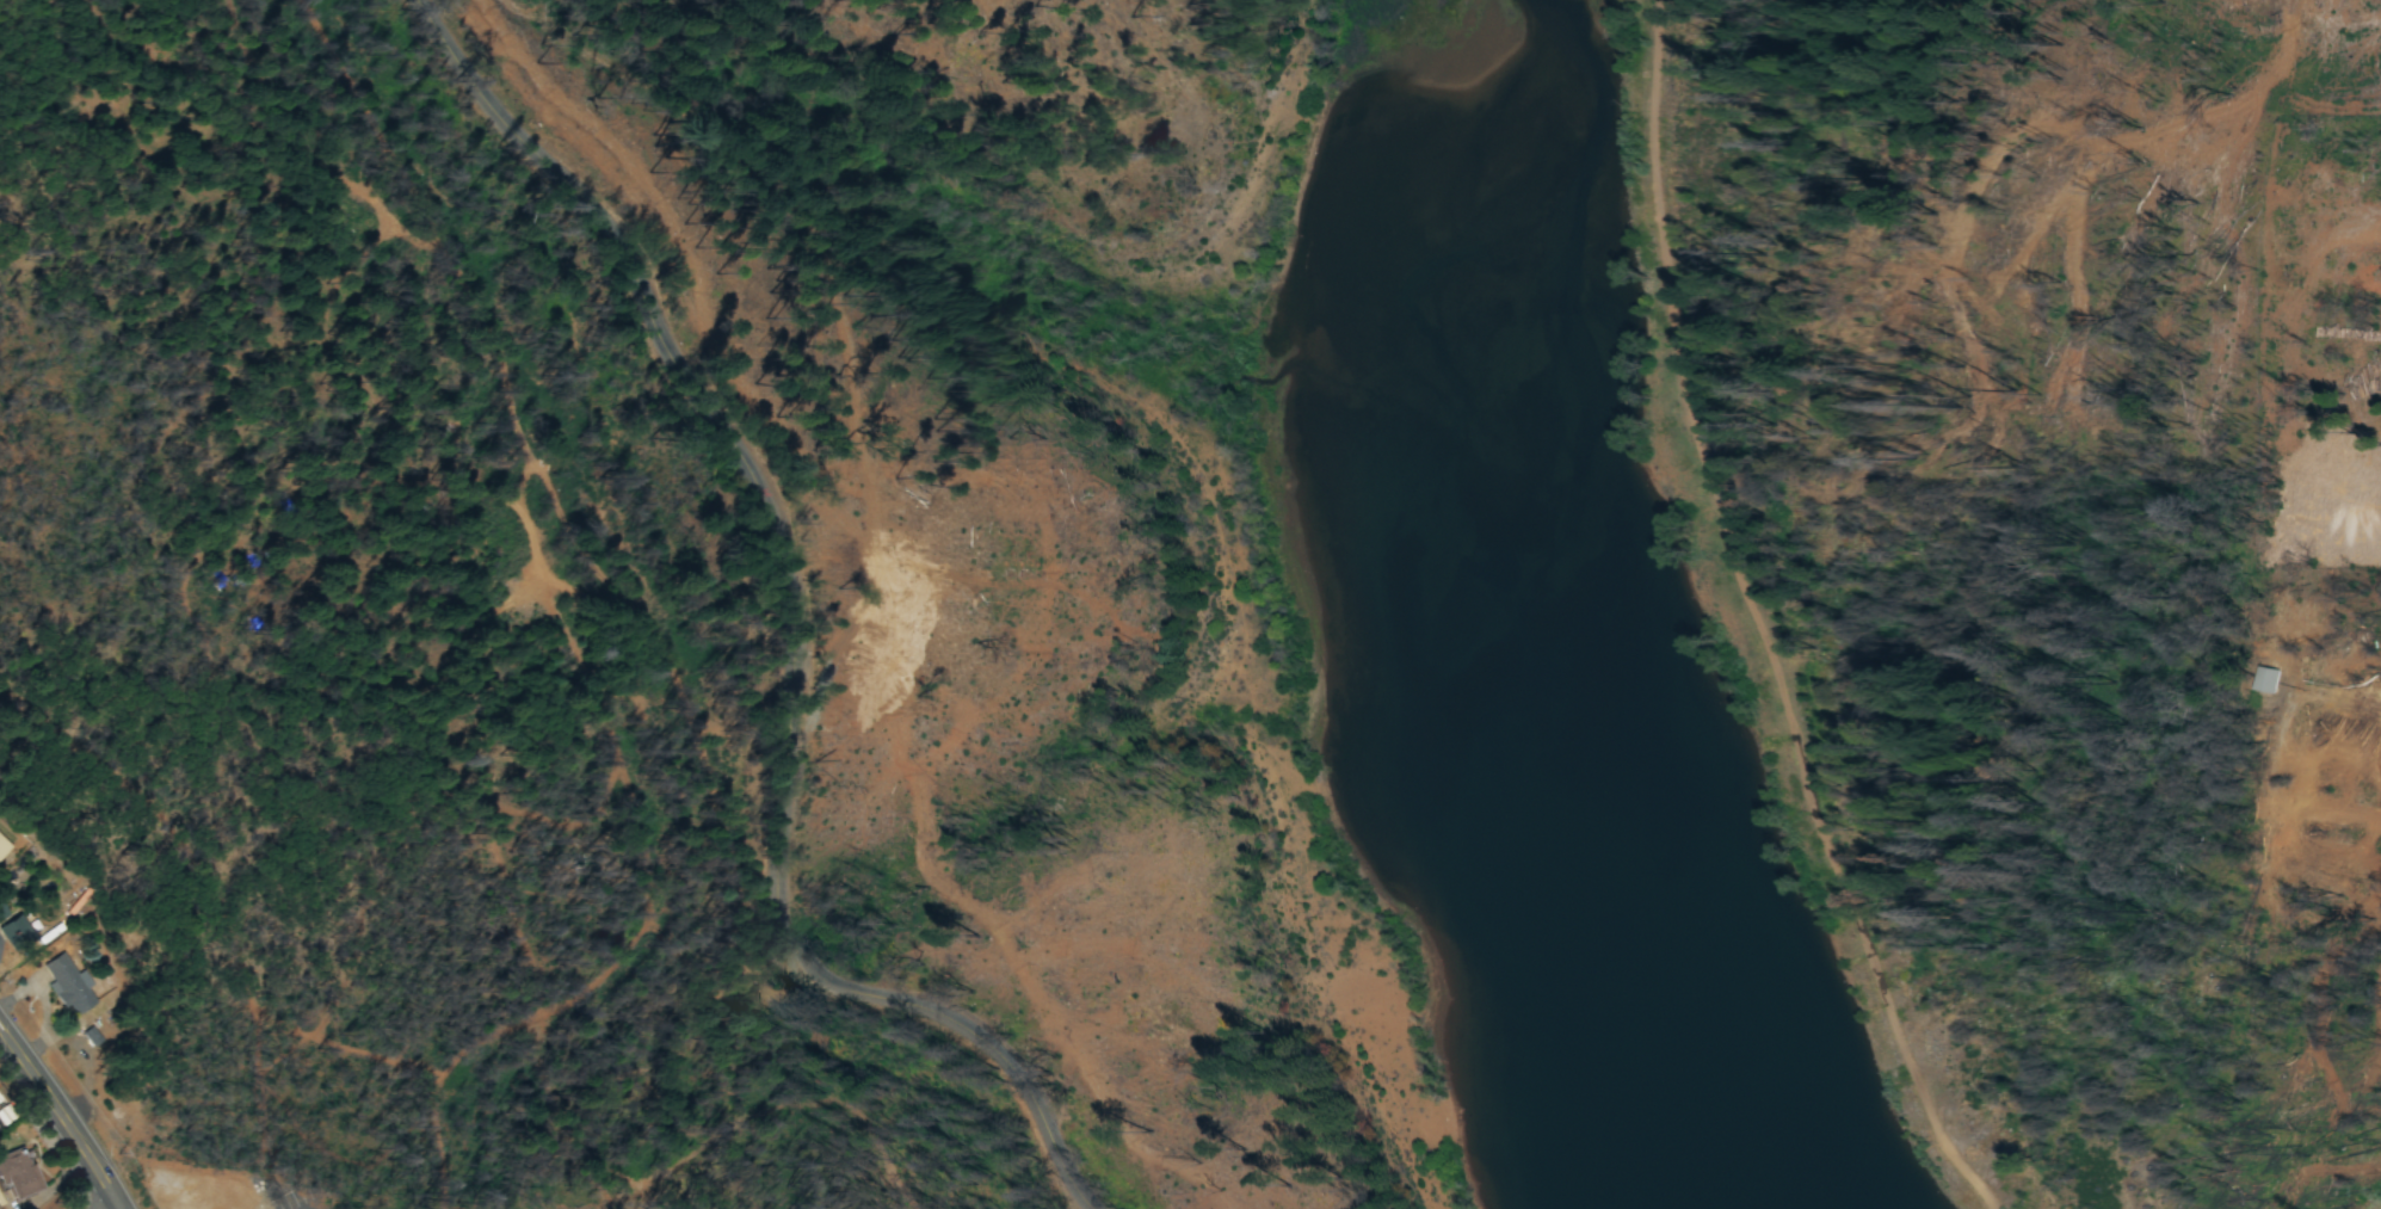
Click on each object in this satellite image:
road: (802, 625)
building: (2269, 681)
building: (16, 934)
building: (69, 987)
road: (66, 1114)
building: (18, 1178)
building: (199, 1190)
road: (119, 1207)

